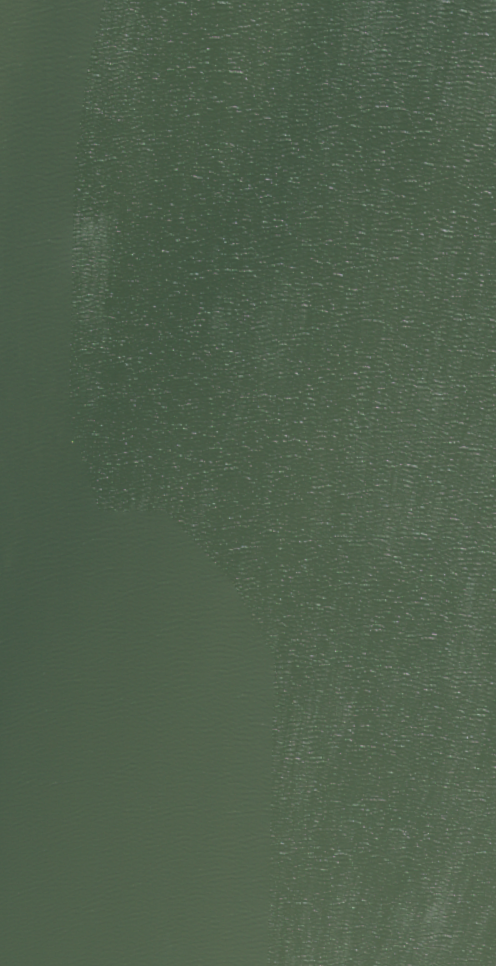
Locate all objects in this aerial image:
park: (248, 483)

